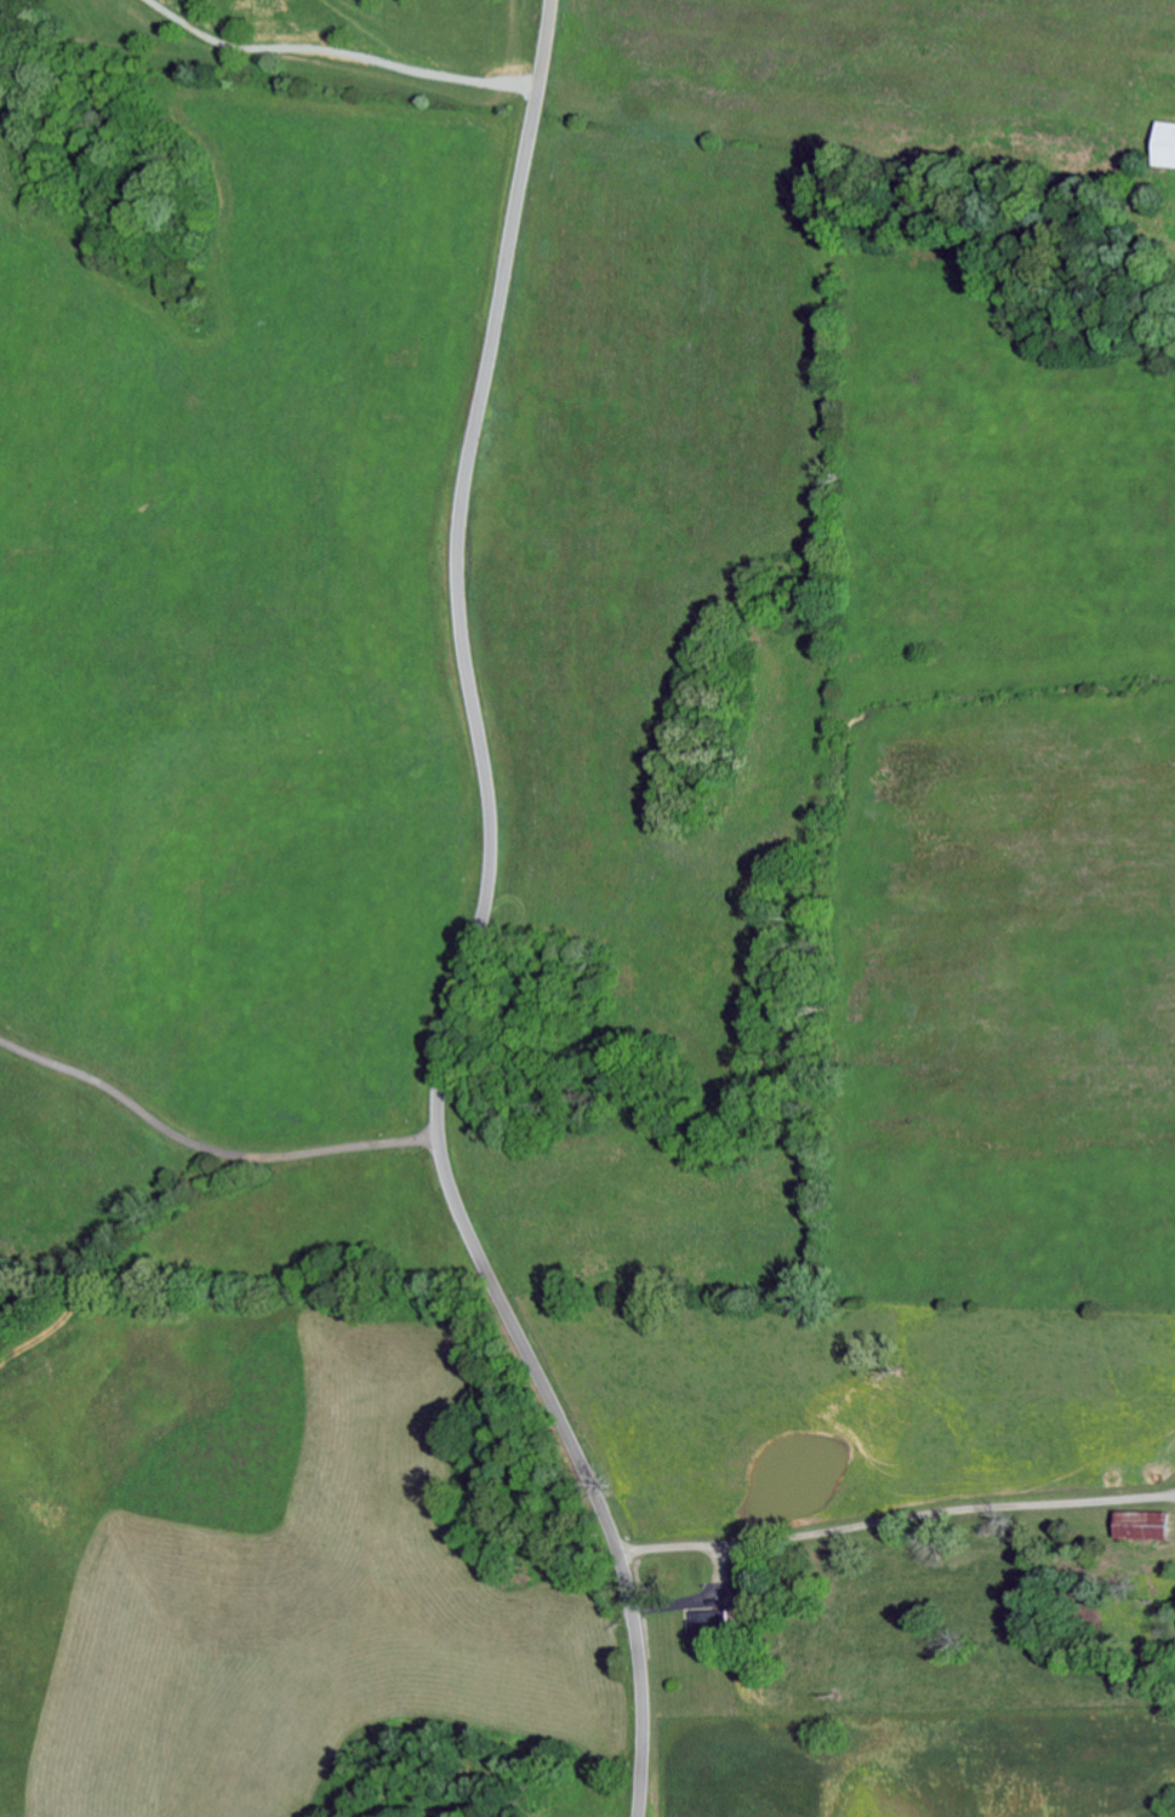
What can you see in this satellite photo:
building: (1165, 144)
road: (479, 925)
road: (210, 1149)
road: (900, 1519)
building: (1146, 1526)
building: (708, 1633)

